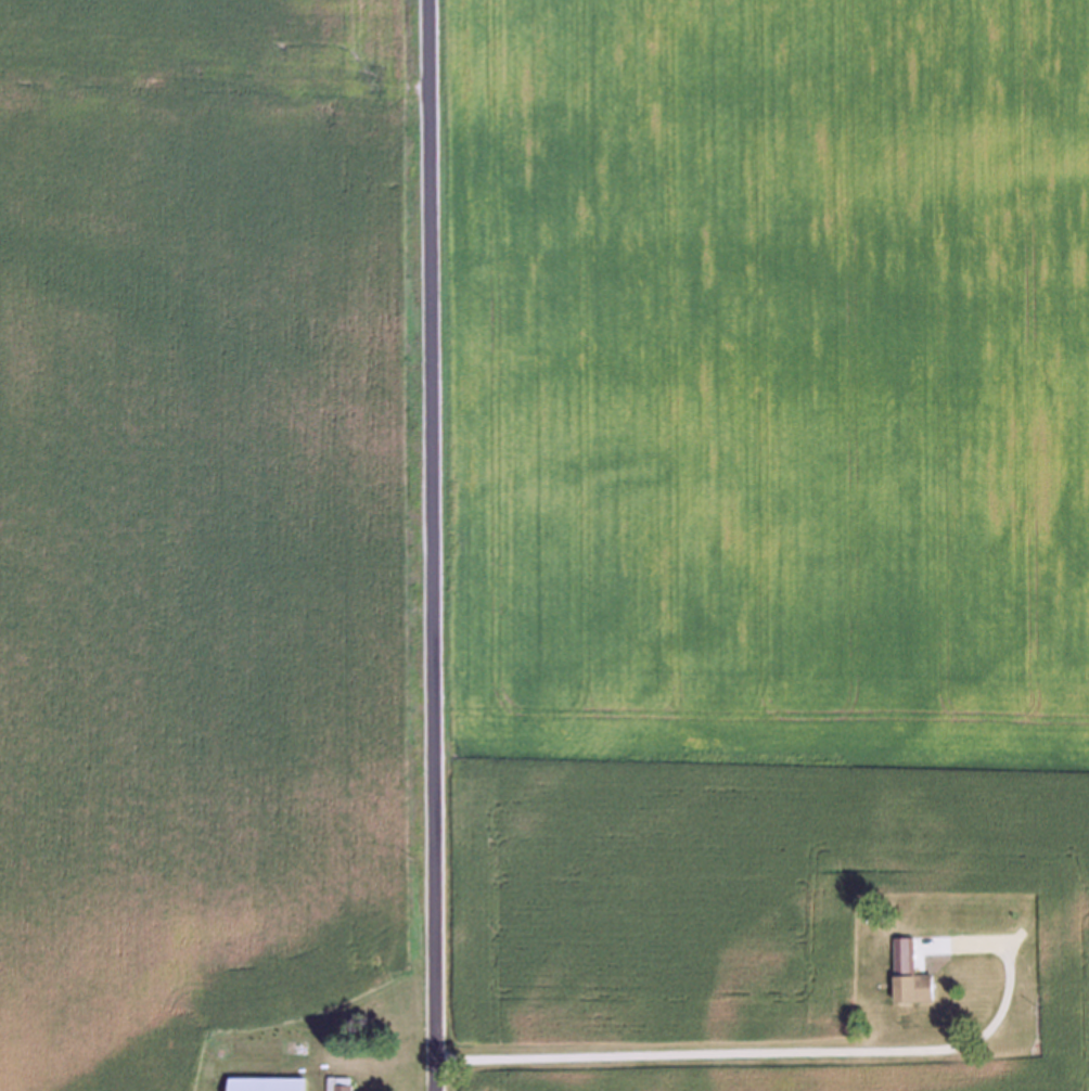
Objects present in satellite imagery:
road: (428, 544)
building: (912, 829)
building: (912, 974)
road: (789, 1051)
building: (268, 1083)
building: (344, 1087)

